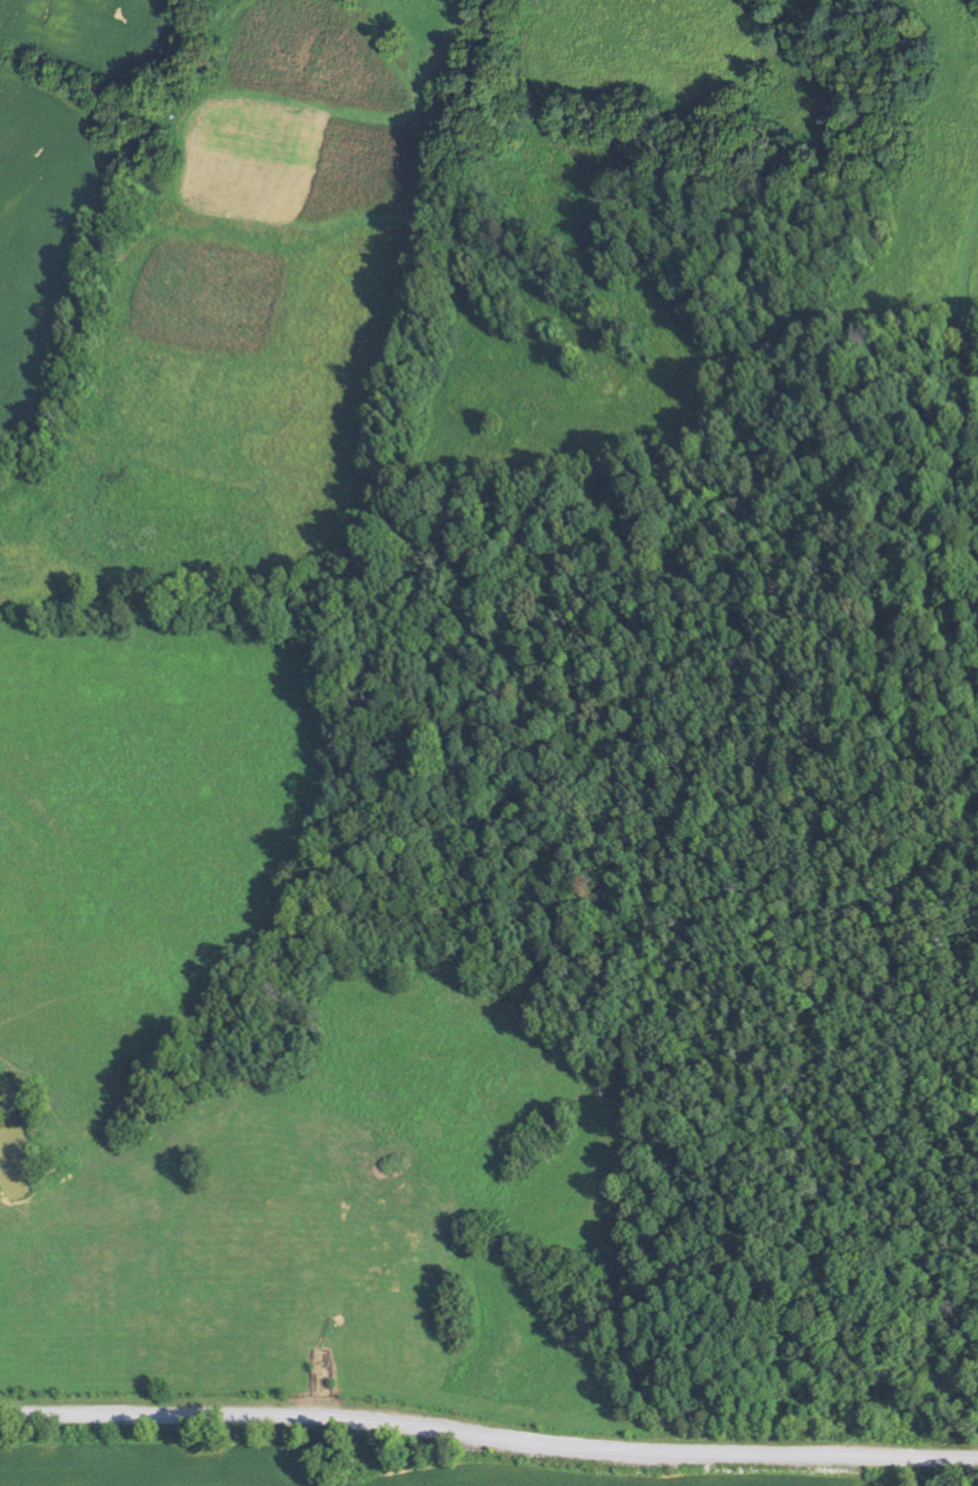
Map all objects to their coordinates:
road: (488, 1432)

